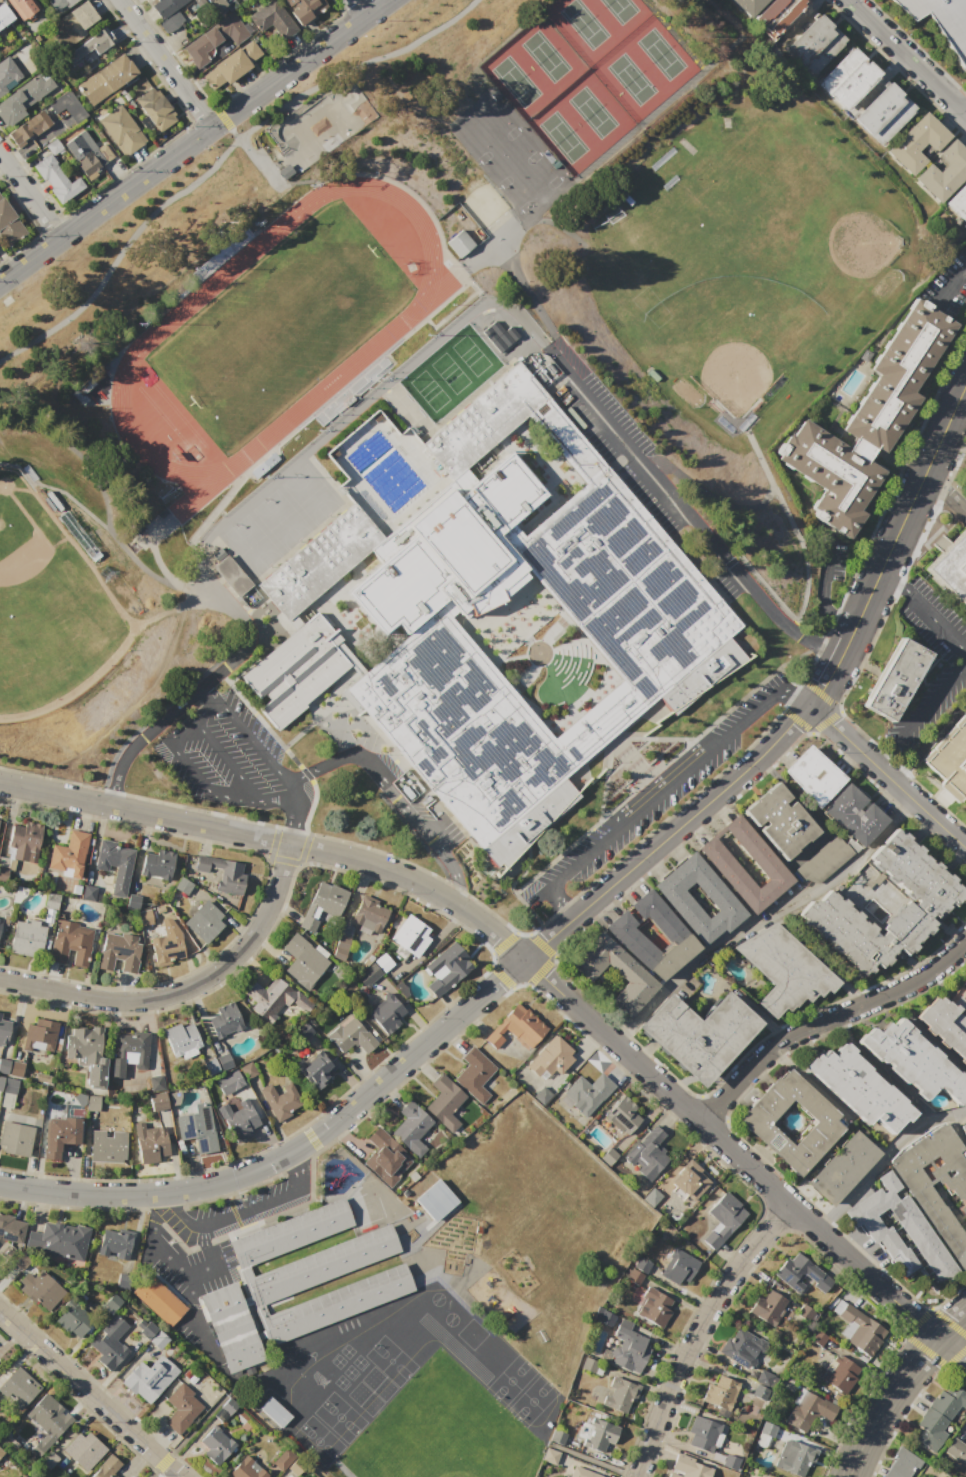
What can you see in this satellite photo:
building: (67, 2)
building: (209, 4)
building: (747, 5)
building: (164, 6)
building: (22, 7)
building: (304, 8)
road: (355, 8)
park: (620, 9)
building: (4, 15)
building: (776, 15)
road: (803, 15)
building: (171, 21)
building: (942, 21)
building: (271, 22)
park: (584, 23)
building: (72, 24)
building: (215, 37)
building: (813, 45)
building: (89, 48)
park: (661, 54)
park: (545, 56)
road: (907, 57)
road: (164, 63)
building: (232, 64)
building: (7, 73)
building: (105, 78)
park: (631, 78)
building: (846, 78)
park: (516, 81)
building: (26, 97)
building: (154, 108)
road: (963, 108)
building: (66, 109)
park: (592, 112)
building: (882, 113)
park: (319, 124)
building: (29, 127)
building: (121, 130)
park: (563, 137)
road: (192, 140)
building: (916, 142)
building: (79, 143)
building: (53, 146)
road: (220, 155)
building: (943, 172)
building: (56, 180)
park: (219, 190)
road: (29, 197)
building: (957, 201)
building: (10, 226)
building: (460, 244)
park: (739, 246)
park: (738, 257)
road: (949, 280)
park: (281, 325)
building: (498, 335)
park: (370, 349)
park: (471, 355)
building: (546, 366)
park: (450, 373)
park: (429, 391)
building: (570, 396)
building: (592, 422)
building: (866, 422)
road: (635, 447)
road: (260, 489)
road: (946, 489)
park: (311, 495)
road: (909, 506)
park: (281, 520)
park: (252, 545)
road: (824, 567)
building: (952, 568)
building: (231, 575)
road: (894, 579)
road: (761, 593)
park: (49, 609)
road: (840, 613)
building: (650, 617)
road: (936, 622)
road: (832, 670)
road: (788, 678)
building: (896, 679)
road: (207, 686)
road: (821, 693)
road: (799, 698)
road: (926, 706)
road: (840, 708)
road: (841, 711)
road: (745, 715)
road: (928, 740)
road: (254, 741)
road: (343, 755)
road: (879, 755)
road: (225, 758)
building: (950, 759)
road: (904, 772)
road: (197, 774)
building: (812, 775)
road: (888, 777)
road: (659, 788)
road: (295, 809)
building: (853, 814)
road: (416, 820)
building: (779, 820)
road: (291, 833)
building: (23, 841)
road: (965, 848)
building: (827, 851)
road: (334, 853)
building: (66, 854)
road: (580, 856)
building: (111, 858)
building: (767, 863)
building: (156, 864)
building: (2, 874)
building: (219, 874)
road: (458, 876)
building: (182, 885)
building: (88, 892)
building: (329, 899)
building: (678, 900)
building: (50, 901)
road: (561, 902)
building: (828, 903)
road: (757, 913)
road: (533, 914)
building: (369, 916)
building: (145, 918)
building: (0, 919)
building: (205, 922)
building: (308, 922)
building: (411, 936)
building: (626, 936)
building: (27, 937)
building: (71, 943)
building: (340, 948)
building: (166, 949)
building: (119, 951)
building: (383, 962)
building: (303, 963)
building: (784, 969)
building: (448, 972)
building: (631, 973)
building: (368, 974)
road: (497, 980)
building: (964, 982)
road: (183, 988)
building: (269, 999)
building: (386, 1013)
building: (0, 1015)
road: (825, 1019)
building: (224, 1020)
building: (946, 1025)
building: (516, 1028)
building: (305, 1031)
building: (4, 1032)
building: (697, 1034)
building: (40, 1036)
building: (351, 1037)
building: (182, 1039)
building: (83, 1043)
building: (128, 1052)
building: (551, 1057)
building: (224, 1061)
building: (915, 1061)
building: (4, 1064)
building: (211, 1066)
building: (17, 1068)
road: (882, 1068)
building: (247, 1069)
building: (314, 1069)
building: (474, 1073)
building: (97, 1074)
road: (656, 1081)
building: (1, 1082)
building: (156, 1082)
building: (229, 1083)
building: (10, 1086)
building: (860, 1088)
building: (587, 1093)
building: (542, 1095)
building: (279, 1097)
building: (158, 1101)
building: (92, 1102)
building: (444, 1102)
building: (623, 1115)
building: (237, 1116)
building: (753, 1122)
building: (197, 1127)
building: (414, 1129)
building: (964, 1130)
building: (60, 1136)
building: (15, 1138)
building: (150, 1142)
building: (108, 1146)
building: (648, 1153)
road: (175, 1155)
building: (608, 1156)
road: (294, 1157)
building: (386, 1157)
road: (883, 1157)
building: (844, 1168)
building: (689, 1179)
road: (75, 1192)
building: (922, 1194)
building: (435, 1199)
road: (260, 1204)
road: (181, 1208)
road: (149, 1212)
building: (724, 1219)
building: (913, 1226)
building: (10, 1229)
road: (818, 1230)
building: (59, 1239)
building: (114, 1243)
road: (214, 1259)
building: (641, 1265)
building: (678, 1267)
building: (794, 1271)
building: (634, 1277)
road: (193, 1278)
building: (122, 1280)
building: (298, 1283)
building: (822, 1284)
building: (40, 1288)
building: (157, 1298)
building: (112, 1302)
building: (654, 1307)
building: (769, 1307)
building: (804, 1314)
building: (73, 1318)
building: (858, 1327)
road: (951, 1327)
building: (147, 1329)
road: (696, 1331)
building: (818, 1338)
building: (159, 1340)
building: (110, 1343)
building: (626, 1348)
building: (741, 1348)
road: (951, 1350)
building: (588, 1365)
building: (841, 1373)
building: (763, 1378)
building: (148, 1379)
building: (20, 1388)
building: (758, 1392)
road: (89, 1393)
building: (621, 1393)
building: (720, 1393)
road: (885, 1403)
building: (182, 1409)
building: (224, 1410)
building: (803, 1410)
building: (273, 1411)
building: (939, 1416)
building: (45, 1420)
park: (443, 1431)
building: (702, 1433)
building: (599, 1434)
building: (766, 1435)
building: (559, 1437)
building: (216, 1445)
building: (85, 1450)
building: (957, 1451)
building: (1, 1453)
building: (551, 1456)
building: (794, 1457)
building: (50, 1459)
building: (284, 1459)
building: (730, 1461)
building: (902, 1464)
building: (295, 1466)
building: (688, 1467)
building: (108, 1468)
building: (247, 1469)
building: (582, 1473)

